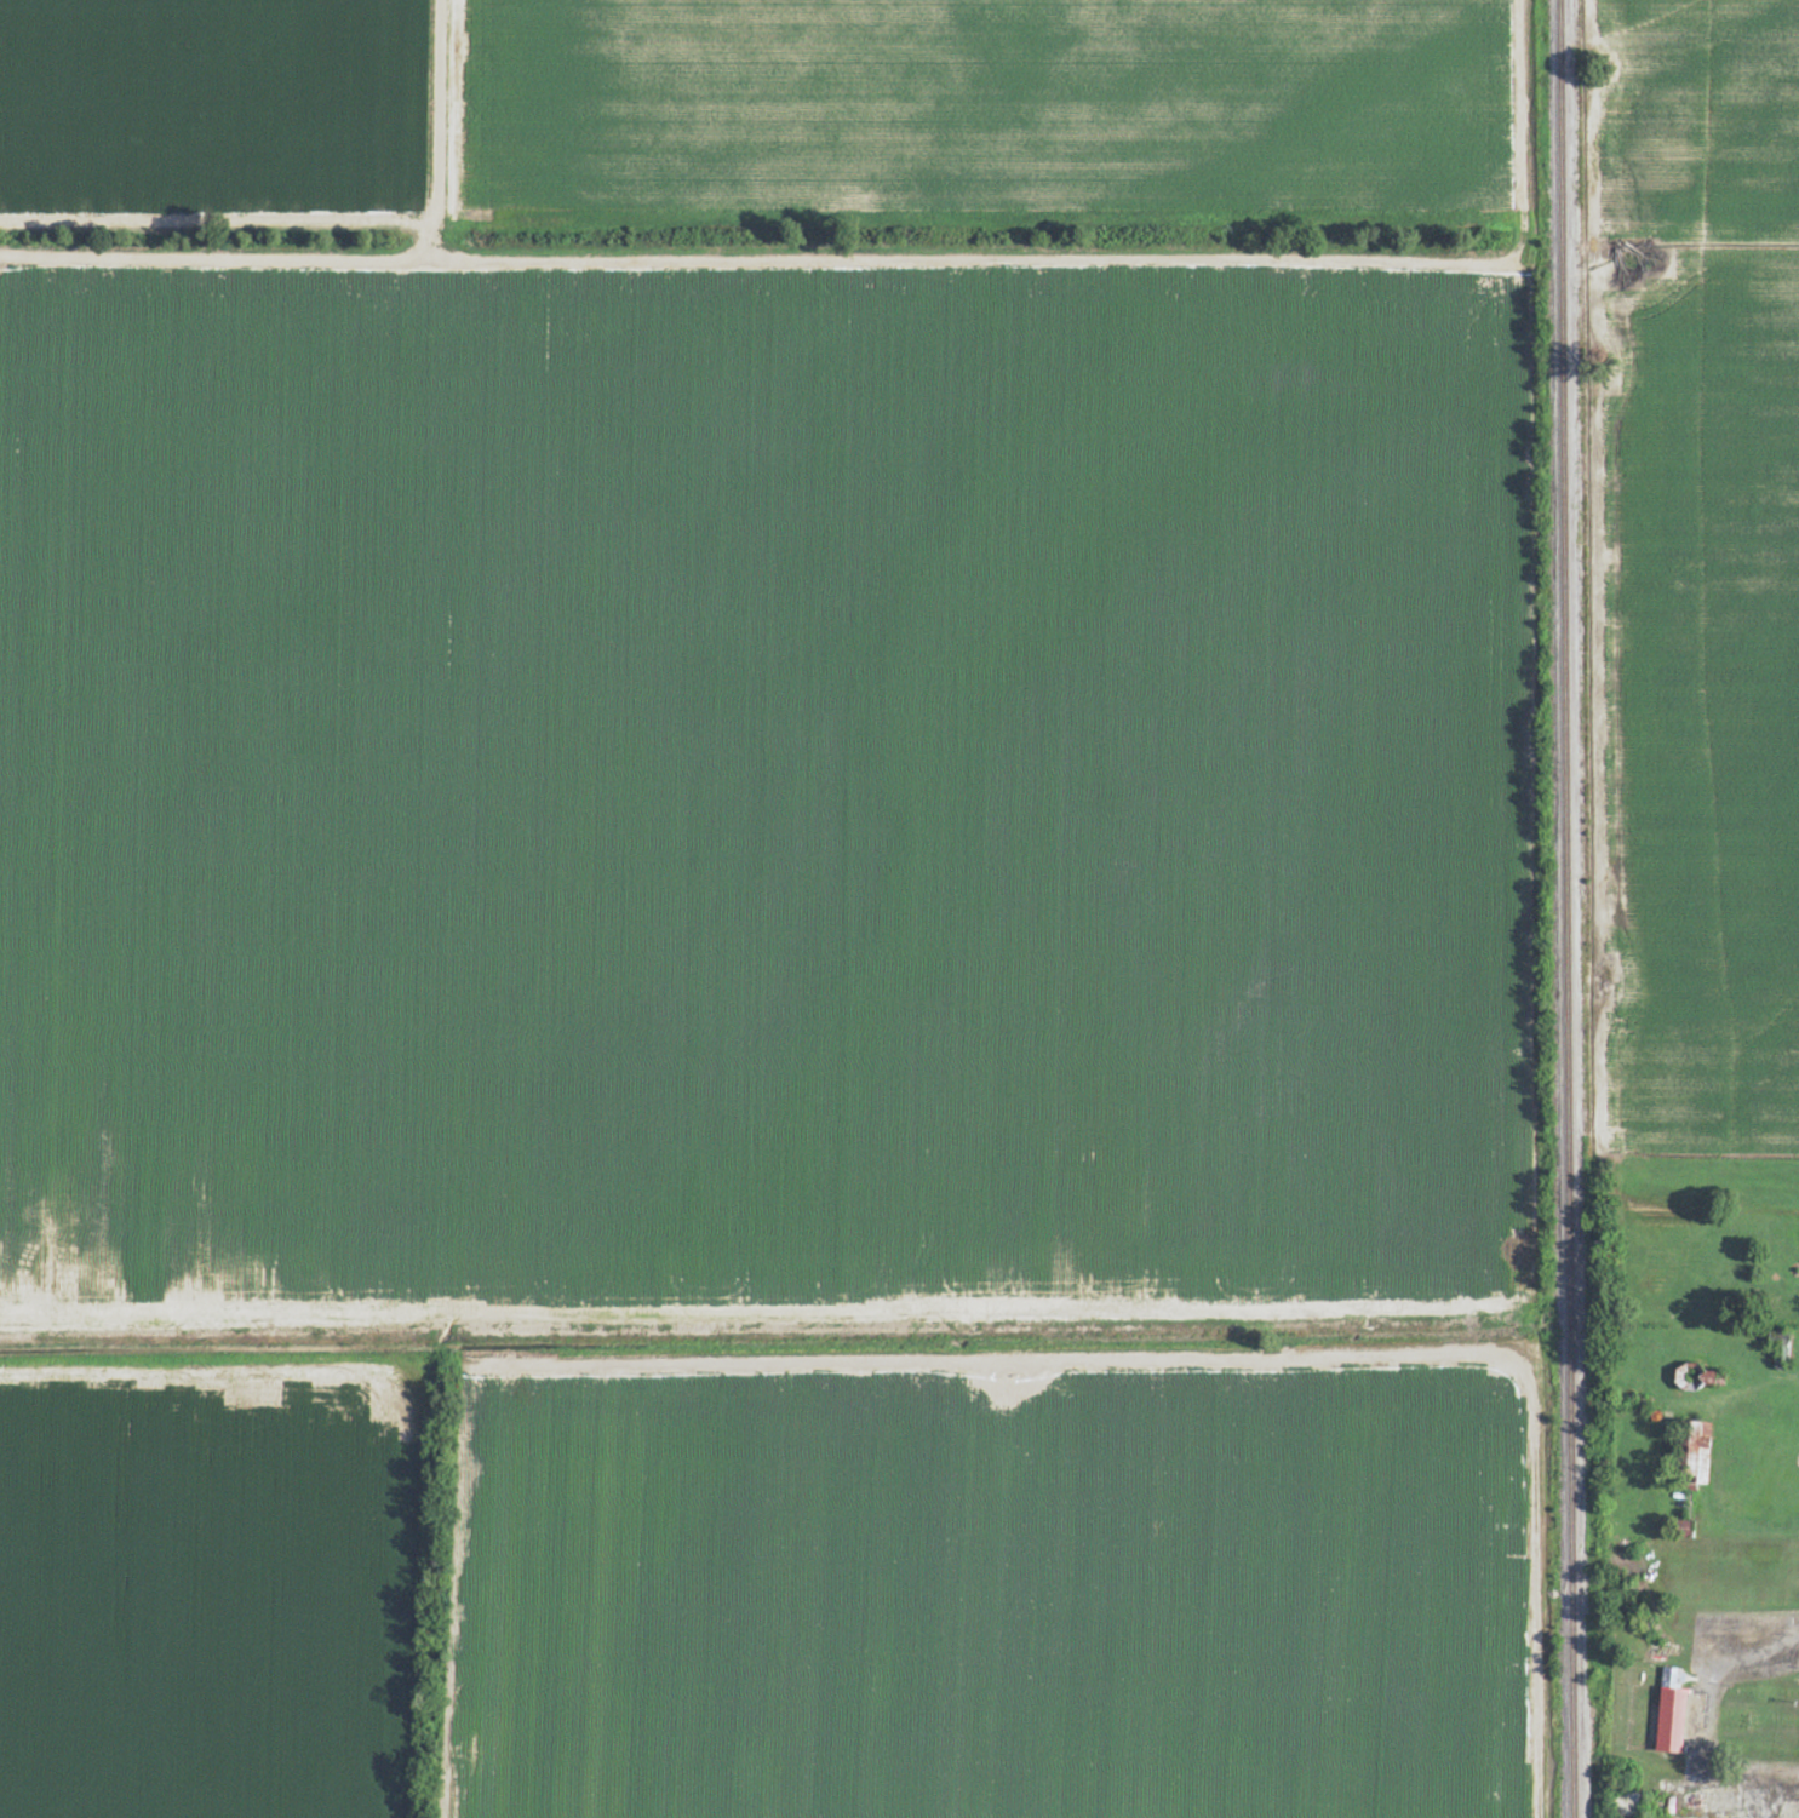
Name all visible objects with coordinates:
railway: (1568, 908)
building: (1777, 1341)
building: (1695, 1453)
road: (1731, 1662)
building: (1671, 1713)
road: (1778, 1799)

